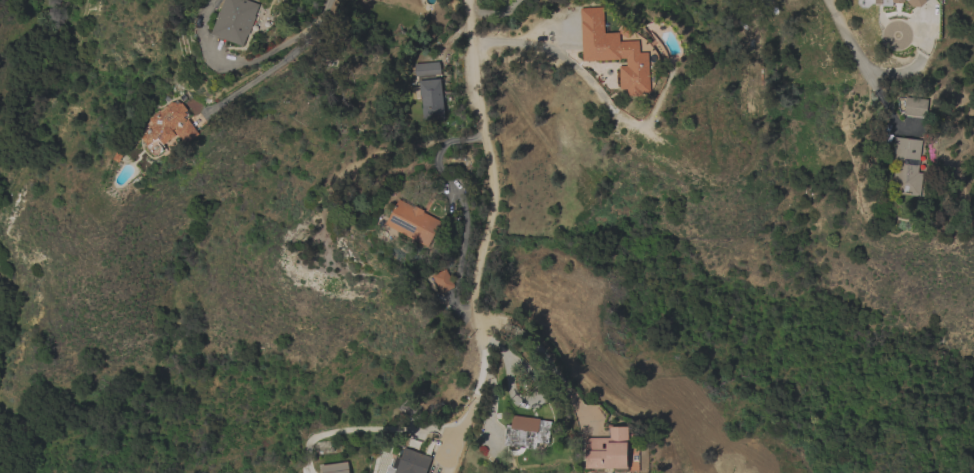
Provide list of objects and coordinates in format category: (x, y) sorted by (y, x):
building: (888, 3)
building: (916, 3)
road: (319, 18)
building: (236, 20)
road: (522, 33)
road: (83, 50)
building: (614, 51)
road: (227, 66)
road: (864, 70)
road: (258, 78)
building: (429, 90)
building: (915, 106)
building: (169, 127)
building: (907, 166)
building: (414, 222)
road: (487, 228)
building: (444, 281)
road: (543, 353)
building: (527, 432)
road: (33, 435)
building: (607, 450)
building: (409, 462)
building: (335, 467)

